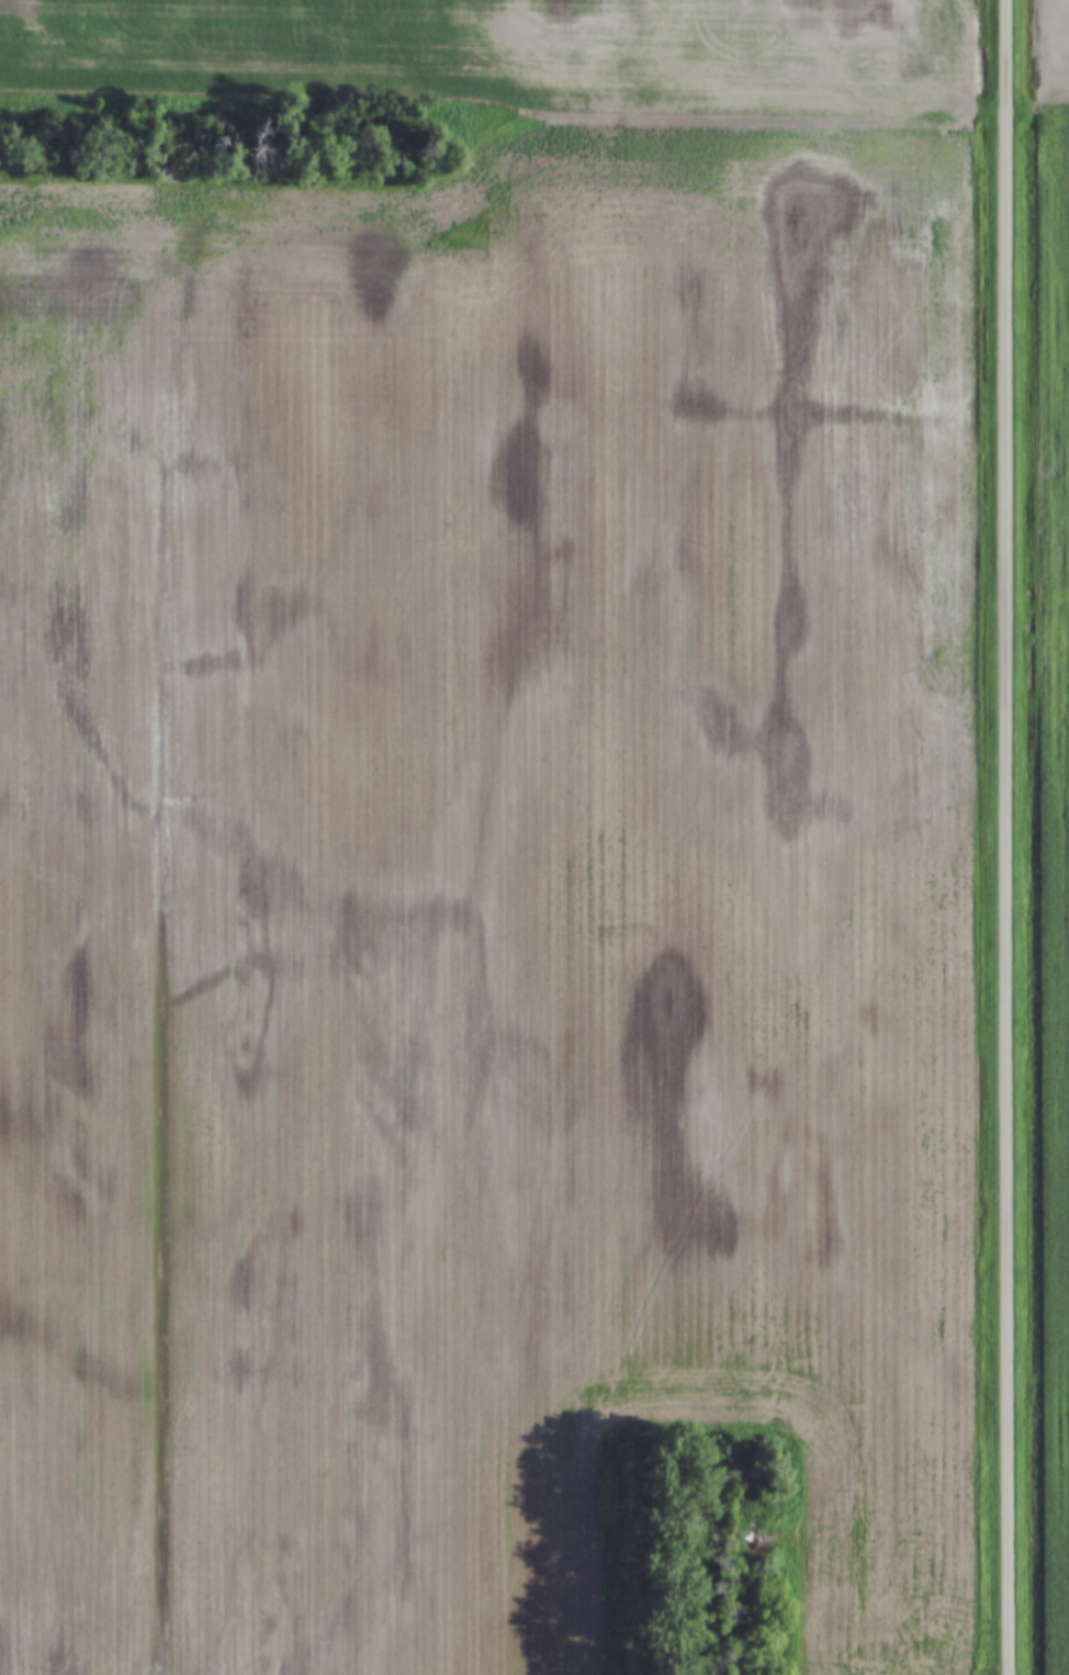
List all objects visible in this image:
road: (1005, 837)

